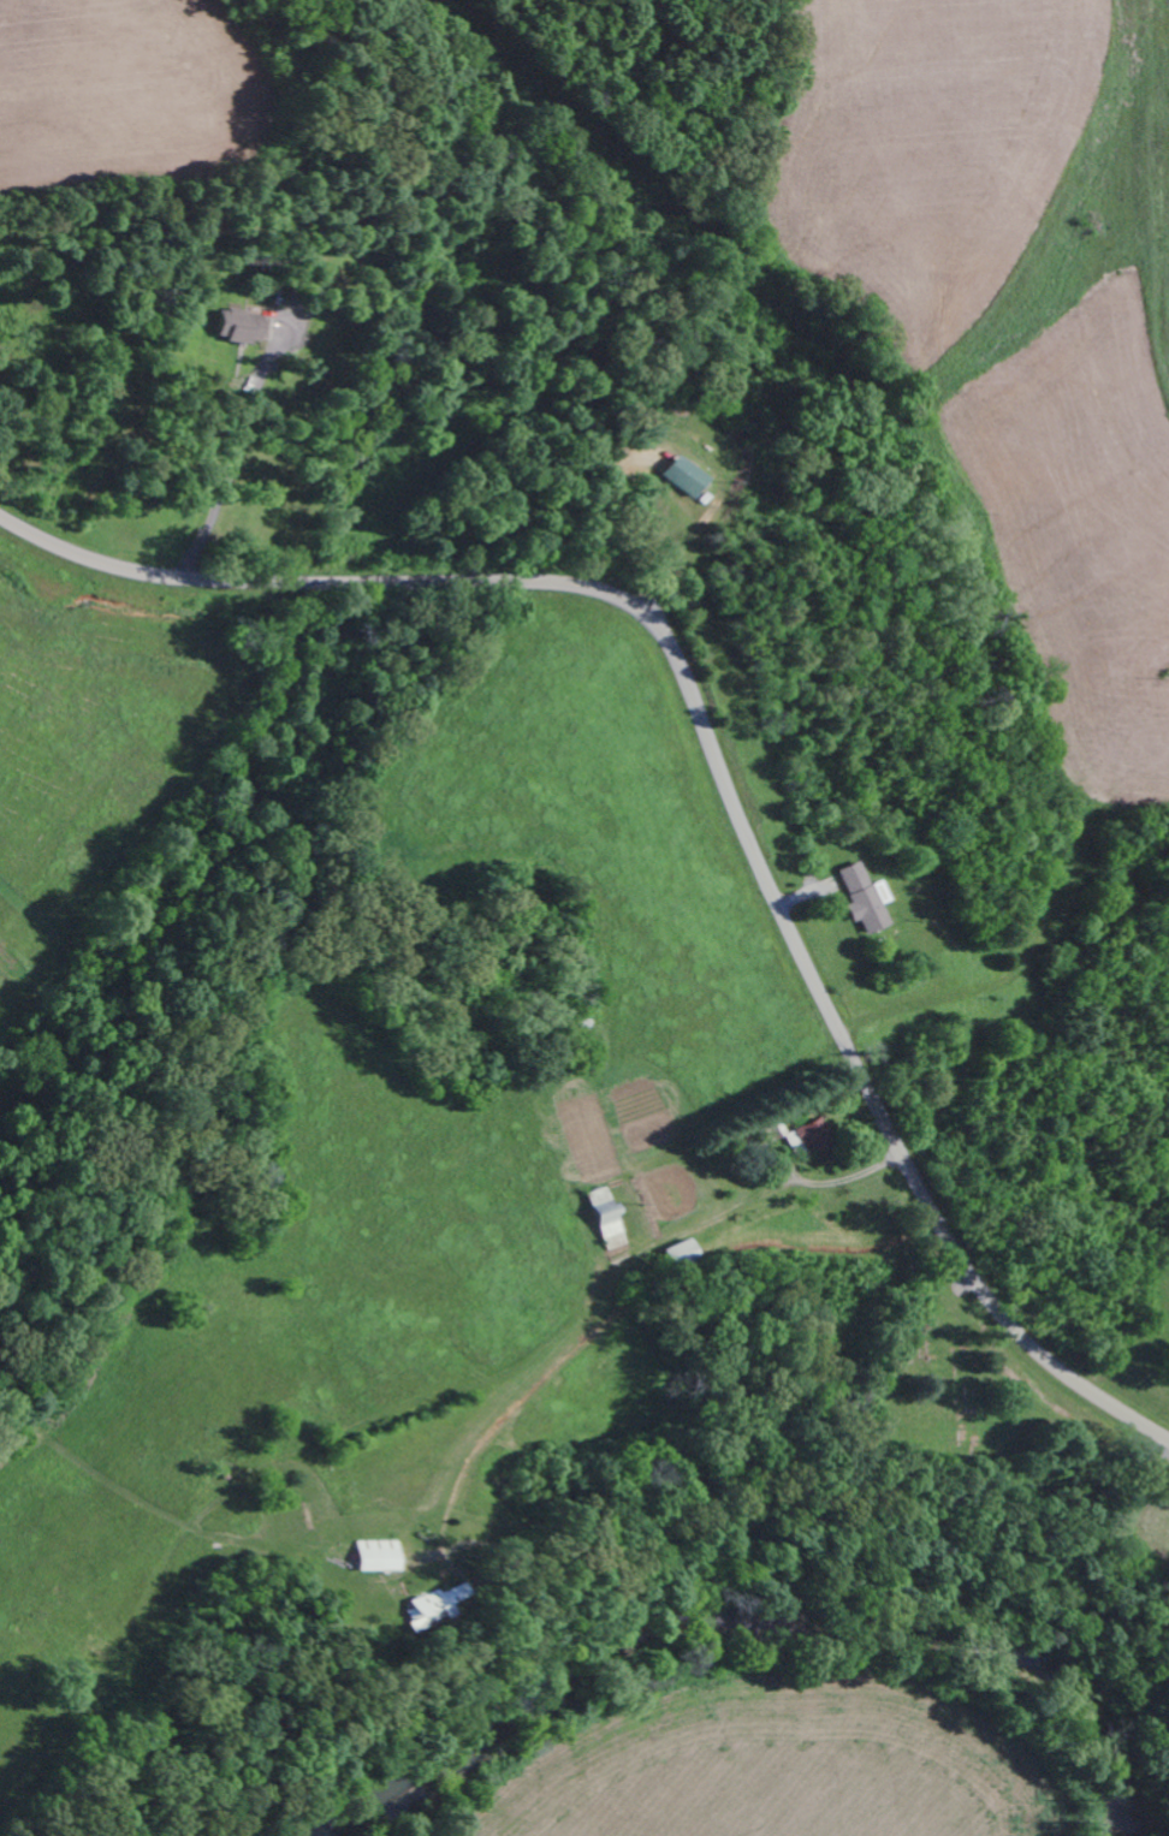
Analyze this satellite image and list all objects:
building: (235, 327)
building: (678, 476)
road: (714, 770)
building: (858, 899)
building: (770, 1133)
building: (805, 1139)
building: (603, 1219)
building: (676, 1254)
building: (372, 1556)
building: (421, 1606)

